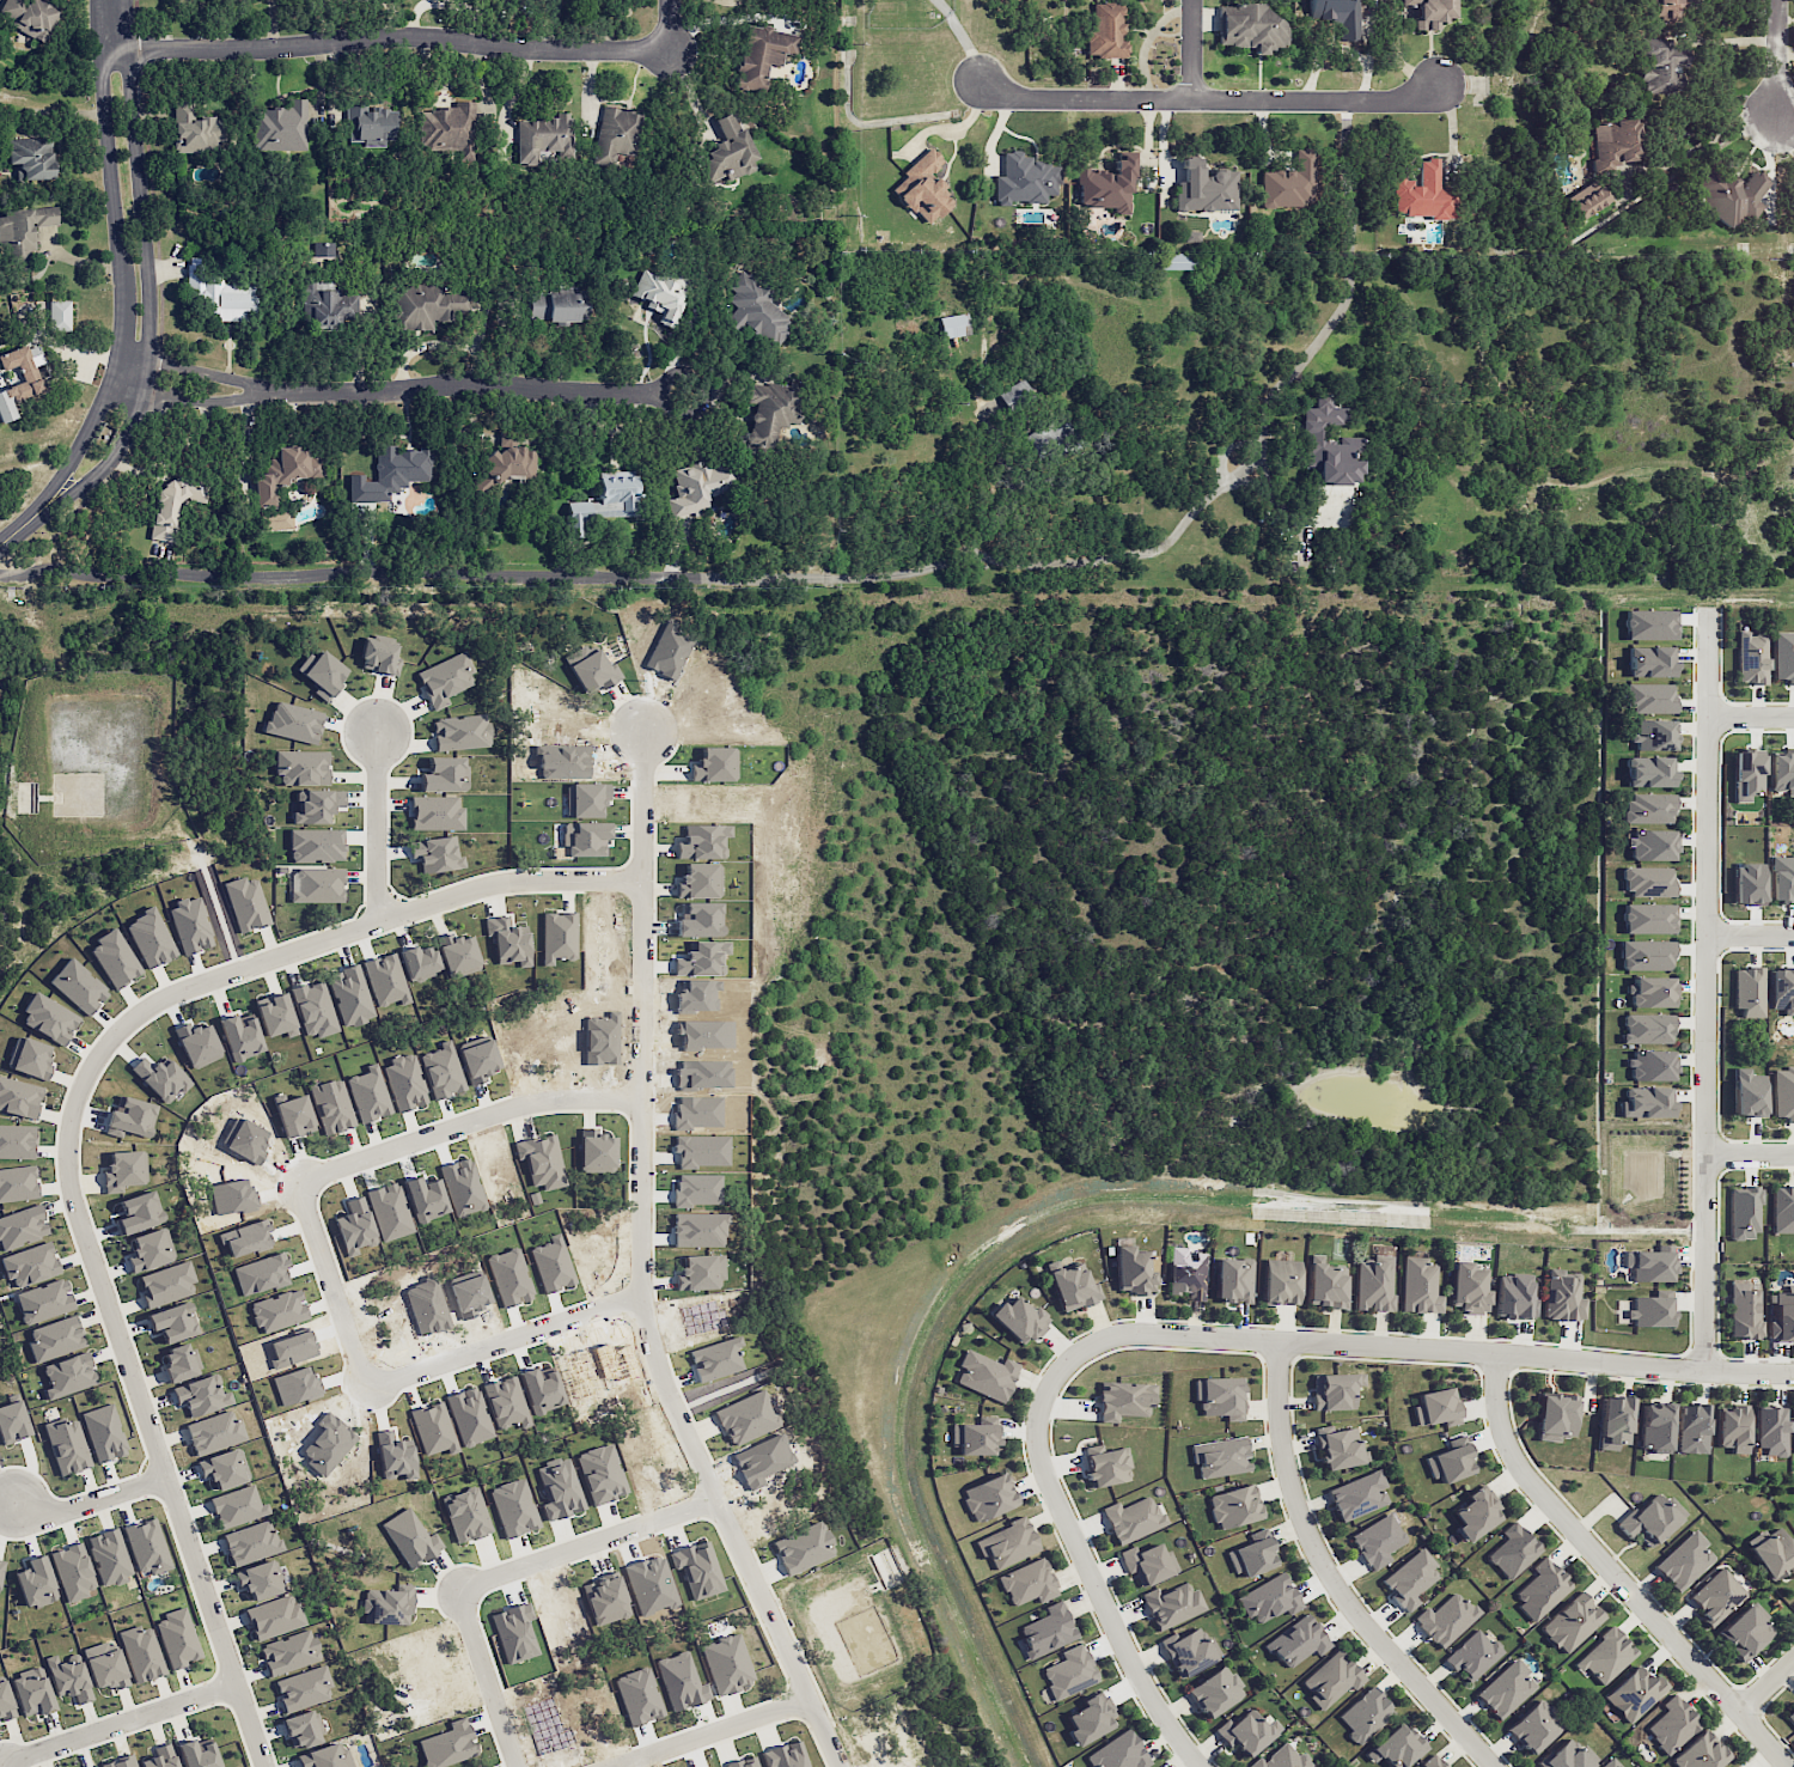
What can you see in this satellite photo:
building: (1664, 10)
building: (1429, 12)
building: (29, 16)
building: (1337, 16)
road: (671, 25)
building: (1250, 28)
building: (1105, 31)
road: (384, 38)
road: (1191, 50)
building: (762, 54)
road: (1774, 55)
building: (1661, 65)
road: (1209, 102)
building: (371, 124)
building: (280, 127)
building: (450, 128)
building: (194, 130)
building: (616, 134)
building: (542, 138)
building: (1615, 142)
road: (1700, 144)
building: (728, 151)
building: (31, 157)
building: (1024, 179)
building: (1289, 184)
building: (1105, 185)
building: (1204, 188)
building: (922, 189)
building: (1421, 194)
building: (1728, 196)
building: (1790, 197)
building: (1586, 199)
building: (22, 230)
building: (323, 249)
building: (1173, 261)
road: (117, 263)
road: (146, 275)
building: (218, 292)
building: (659, 297)
building: (429, 304)
building: (325, 305)
building: (551, 306)
building: (756, 310)
building: (59, 315)
building: (953, 325)
road: (196, 372)
building: (26, 385)
road: (464, 385)
building: (1015, 395)
road: (190, 401)
road: (701, 403)
building: (768, 413)
road: (1229, 441)
building: (1328, 444)
road: (1246, 465)
building: (283, 473)
building: (390, 473)
building: (696, 487)
building: (603, 502)
building: (173, 504)
building: (275, 519)
road: (22, 526)
road: (444, 572)
building: (1649, 624)
building: (378, 657)
building: (1783, 657)
building: (1751, 658)
building: (1649, 662)
building: (324, 674)
building: (445, 678)
building: (1648, 697)
road: (1750, 715)
building: (293, 721)
building: (460, 732)
building: (1653, 735)
building: (301, 767)
building: (1782, 769)
building: (1649, 772)
building: (444, 774)
building: (1747, 775)
building: (317, 805)
building: (1647, 809)
building: (435, 812)
road: (377, 824)
building: (316, 845)
building: (1652, 845)
building: (437, 854)
building: (1781, 879)
building: (1648, 881)
building: (1747, 883)
building: (317, 885)
building: (245, 903)
building: (1648, 918)
building: (189, 925)
road: (1750, 930)
building: (457, 953)
building: (1646, 955)
building: (114, 958)
building: (419, 963)
building: (384, 980)
building: (78, 986)
building: (1781, 988)
road: (1704, 989)
building: (1650, 992)
building: (1749, 992)
building: (349, 995)
building: (313, 1009)
building: (48, 1018)
building: (1647, 1028)
building: (240, 1036)
building: (31, 1059)
building: (1650, 1065)
building: (163, 1078)
building: (1747, 1092)
building: (1783, 1093)
building: (18, 1097)
building: (1644, 1102)
road: (460, 1121)
road: (69, 1129)
building: (17, 1141)
road: (1749, 1153)
building: (123, 1169)
building: (18, 1183)
building: (1782, 1210)
building: (138, 1212)
building: (1744, 1212)
building: (22, 1226)
building: (149, 1249)
building: (1649, 1263)
building: (29, 1265)
road: (637, 1268)
building: (1133, 1271)
building: (1186, 1273)
building: (1233, 1280)
building: (1281, 1281)
building: (166, 1282)
building: (1374, 1282)
road: (328, 1284)
building: (1326, 1285)
building: (1073, 1286)
building: (1418, 1286)
building: (1467, 1288)
building: (1514, 1296)
building: (1563, 1296)
building: (43, 1300)
building: (1744, 1309)
building: (1649, 1311)
building: (1782, 1314)
building: (1019, 1320)
building: (172, 1323)
road: (1200, 1336)
building: (55, 1338)
road: (504, 1340)
building: (178, 1361)
building: (67, 1375)
building: (986, 1375)
building: (1335, 1390)
building: (201, 1395)
building: (1219, 1396)
building: (1122, 1400)
building: (1436, 1407)
building: (1555, 1415)
building: (745, 1418)
building: (12, 1421)
building: (1613, 1421)
building: (1655, 1426)
building: (1691, 1428)
building: (1732, 1428)
building: (1771, 1430)
building: (213, 1432)
building: (1793, 1432)
building: (974, 1438)
building: (66, 1445)
building: (1337, 1448)
building: (1220, 1457)
building: (1451, 1463)
building: (1106, 1467)
building: (222, 1468)
building: (600, 1474)
building: (559, 1489)
building: (1357, 1494)
building: (988, 1497)
road: (89, 1501)
building: (237, 1506)
building: (1233, 1506)
building: (1476, 1512)
building: (465, 1515)
building: (1131, 1519)
building: (1648, 1521)
building: (410, 1537)
building: (1377, 1541)
building: (250, 1542)
road: (588, 1542)
building: (1007, 1543)
building: (146, 1547)
building: (801, 1547)
building: (1513, 1550)
building: (1771, 1552)
building: (1253, 1554)
building: (109, 1556)
building: (1683, 1560)
building: (1145, 1564)
building: (72, 1571)
road: (1613, 1573)
road: (1331, 1579)
building: (1410, 1579)
building: (260, 1580)
building: (35, 1583)
building: (1029, 1583)
building: (1540, 1589)
building: (1715, 1596)
building: (1269, 1598)
building: (1171, 1604)
building: (388, 1605)
building: (274, 1616)
building: (1445, 1619)
building: (1570, 1622)
building: (1046, 1629)
building: (1744, 1632)
building: (177, 1638)
building: (1296, 1641)
building: (1189, 1650)
building: (289, 1652)
building: (141, 1653)
building: (1472, 1655)
building: (1605, 1656)
building: (726, 1663)
building: (106, 1668)
building: (1068, 1672)
road: (488, 1676)
building: (68, 1678)
building: (1331, 1678)
road: (1766, 1686)
building: (303, 1688)
building: (1505, 1688)
building: (1214, 1690)
building: (32, 1692)
building: (1634, 1693)
building: (5, 1700)
building: (1365, 1713)
building: (1790, 1716)
building: (1090, 1718)
road: (115, 1724)
building: (1534, 1725)
building: (1671, 1725)
building: (301, 1729)
building: (1246, 1731)
road: (704, 1732)
building: (447, 1744)
building: (1395, 1747)
building: (1118, 1753)
building: (1700, 1753)
building: (197, 1754)
building: (1567, 1755)
building: (160, 1756)
building: (324, 1756)
building: (1282, 1759)
building: (121, 1762)
building: (1432, 1762)
building: (1610, 1763)
building: (94, 1766)
building: (1320, 1766)
building: (1737, 1766)

